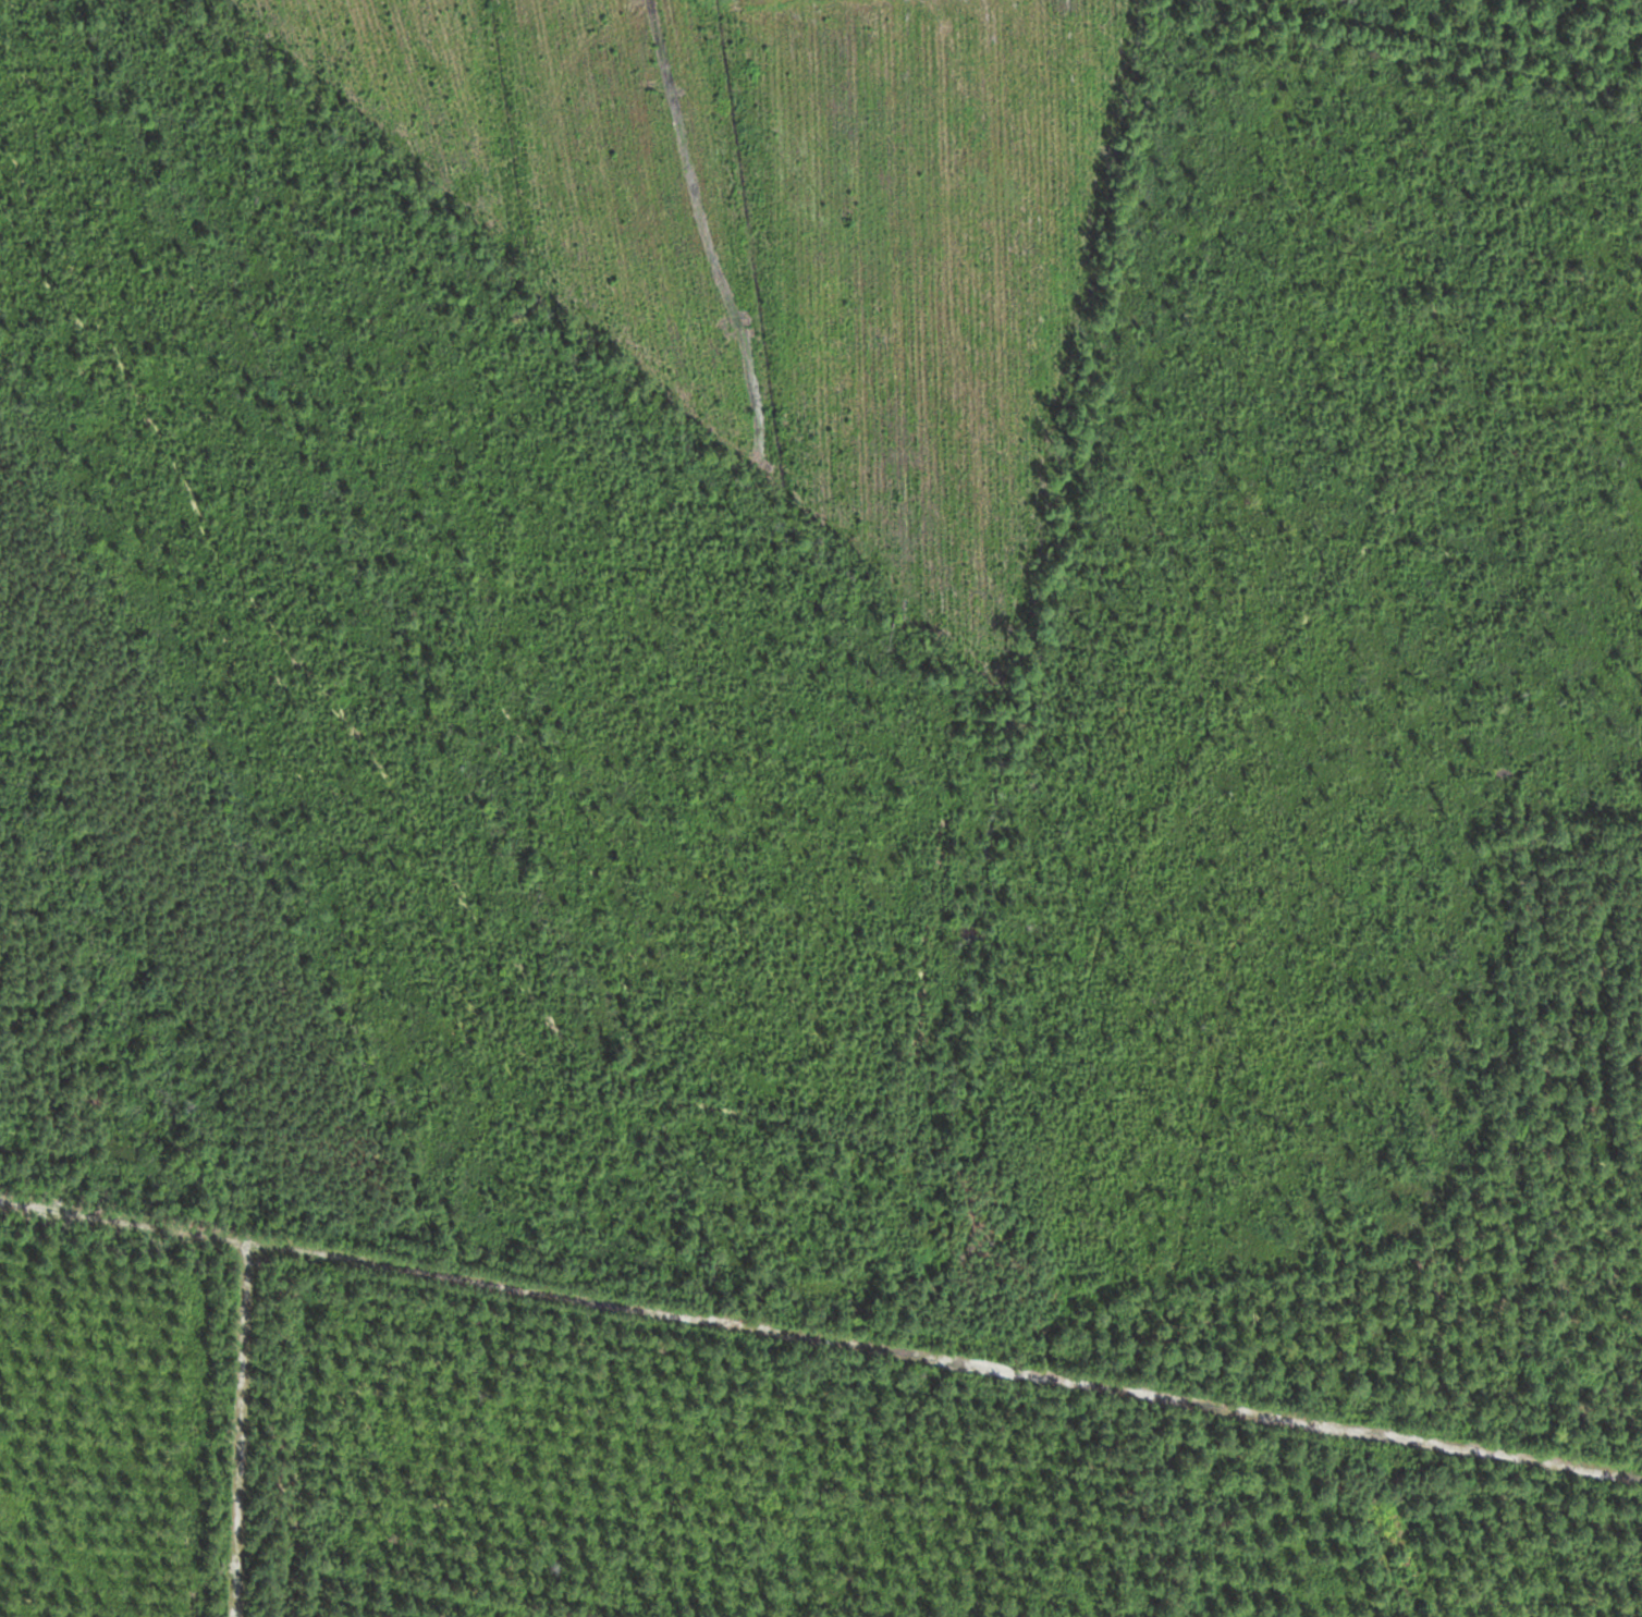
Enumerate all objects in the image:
road: (818, 1334)
road: (241, 1421)

